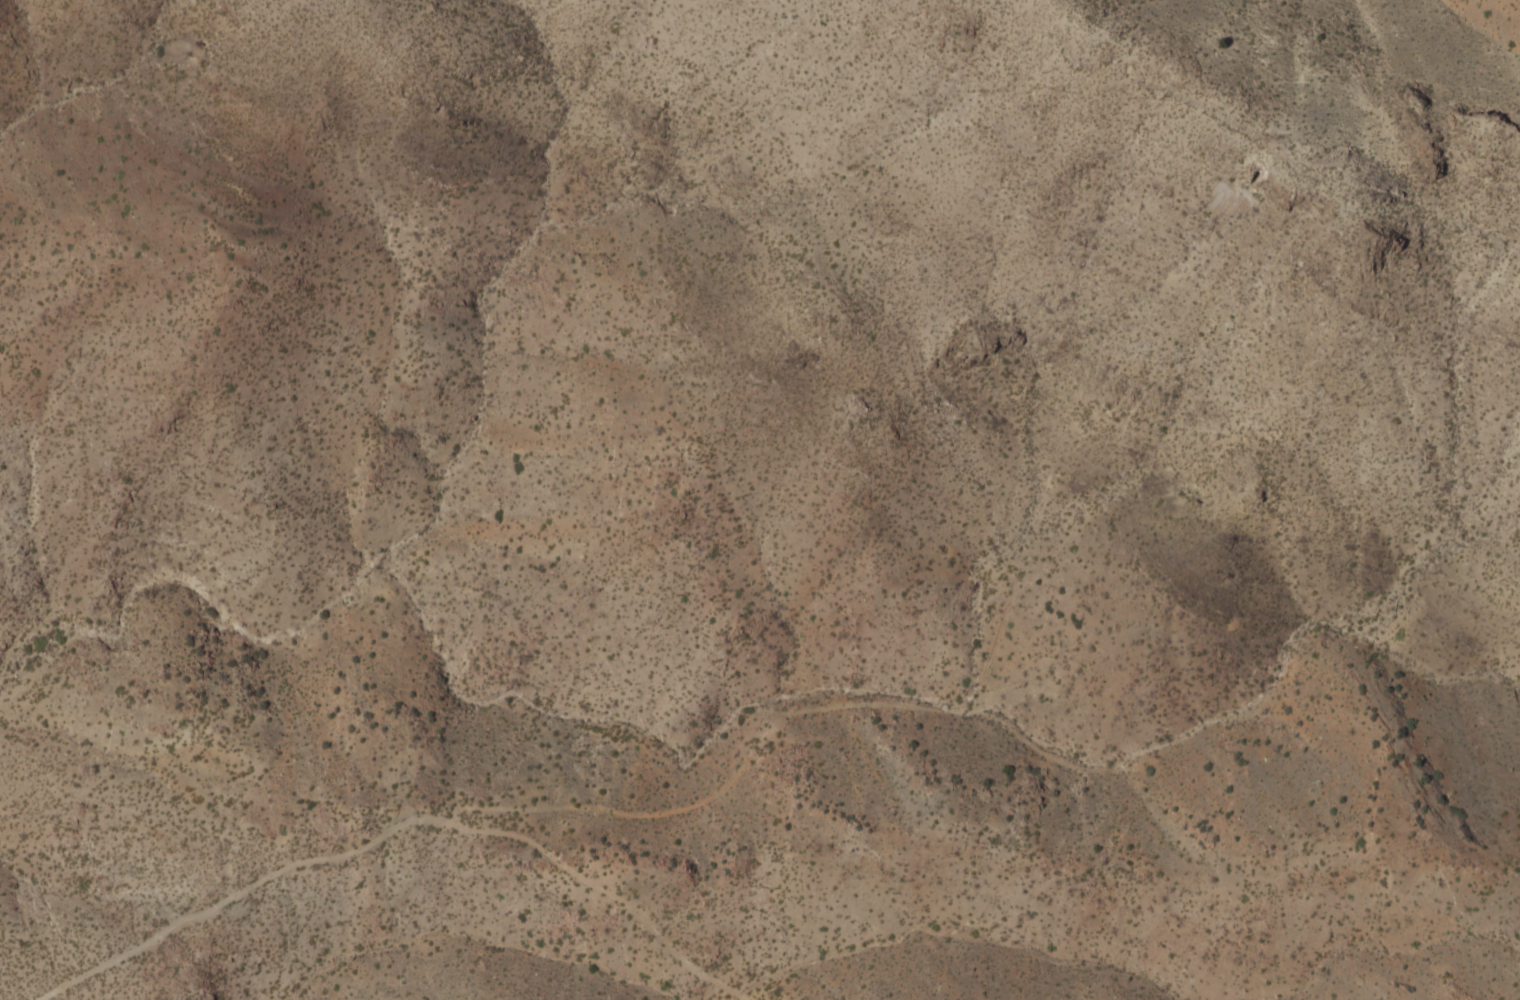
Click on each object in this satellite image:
road: (401, 828)

